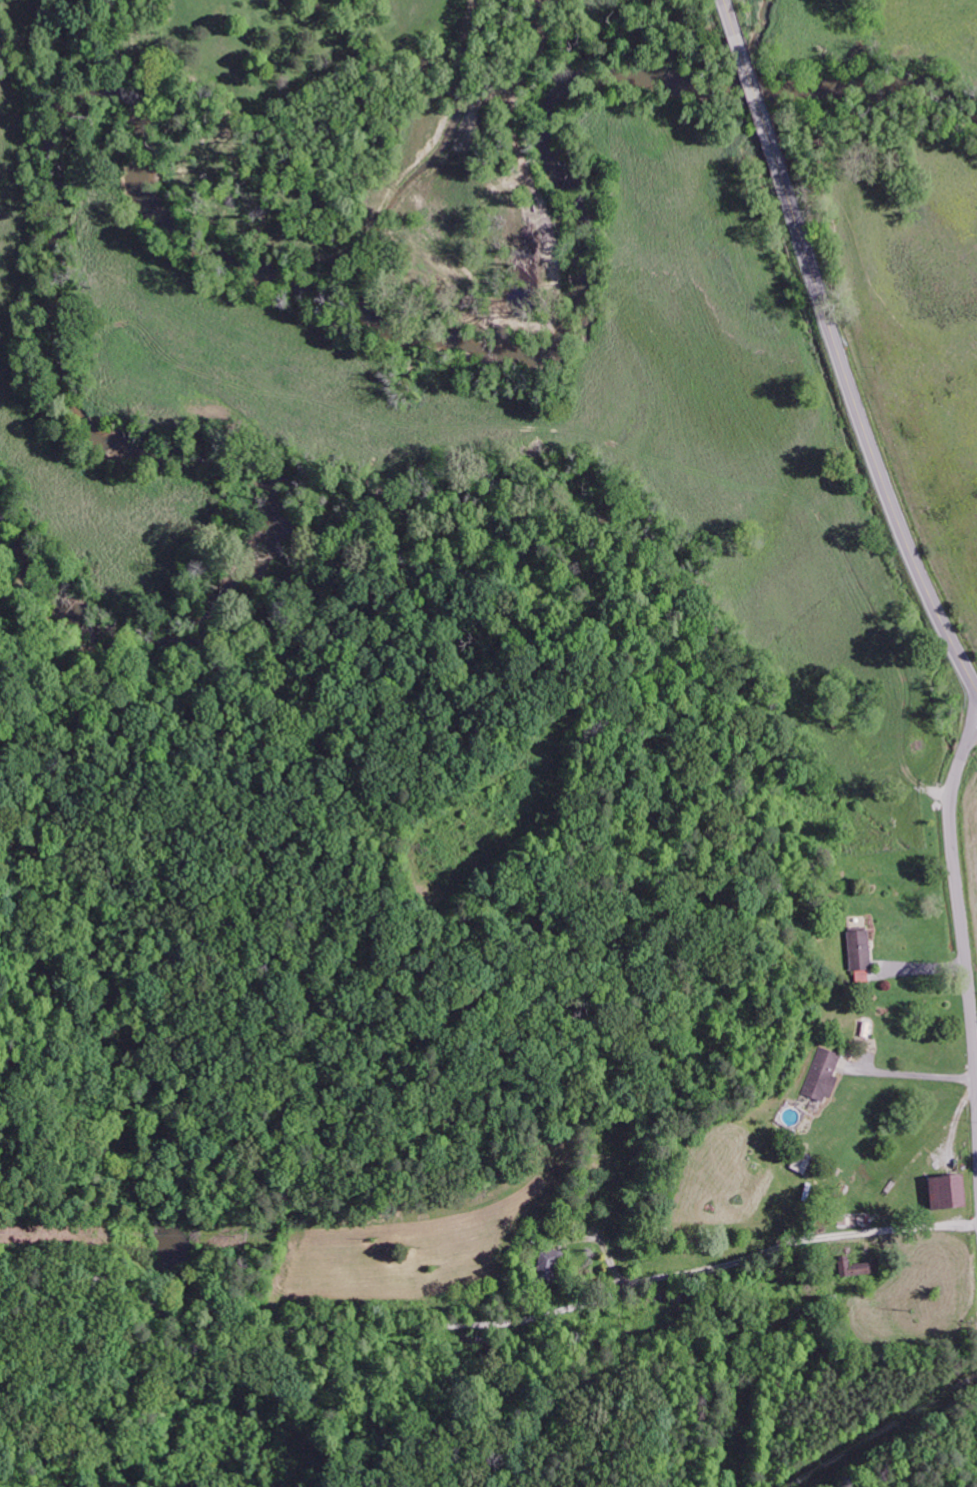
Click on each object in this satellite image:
road: (837, 348)
road: (958, 884)
building: (822, 1075)
road: (764, 1108)
building: (945, 1191)
building: (854, 1267)

